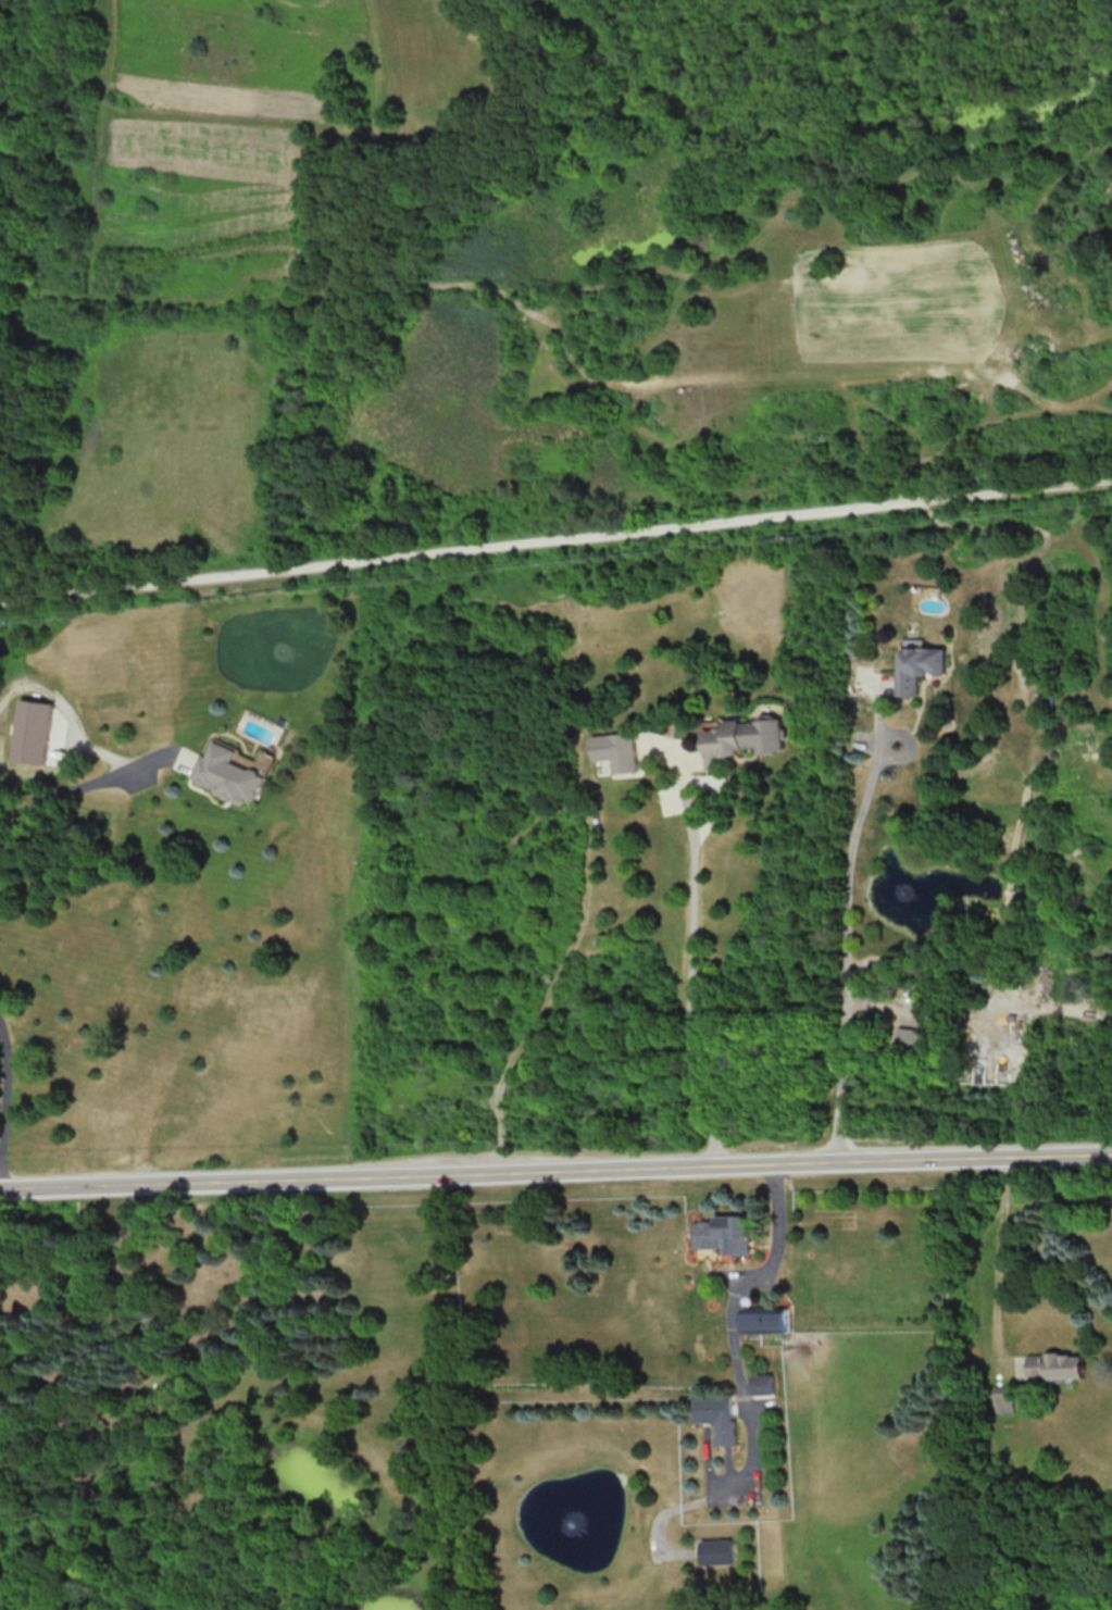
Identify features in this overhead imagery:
park: (555, 536)
road: (555, 540)
building: (917, 665)
building: (37, 731)
building: (742, 737)
building: (616, 750)
building: (226, 774)
road: (59, 794)
road: (842, 923)
road: (691, 964)
building: (912, 1037)
road: (4, 1088)
road: (555, 1173)
building: (724, 1234)
road: (998, 1248)
road: (752, 1273)
building: (765, 1319)
building: (1055, 1364)
building: (763, 1383)
building: (1002, 1398)
building: (717, 1416)
building: (716, 1551)

